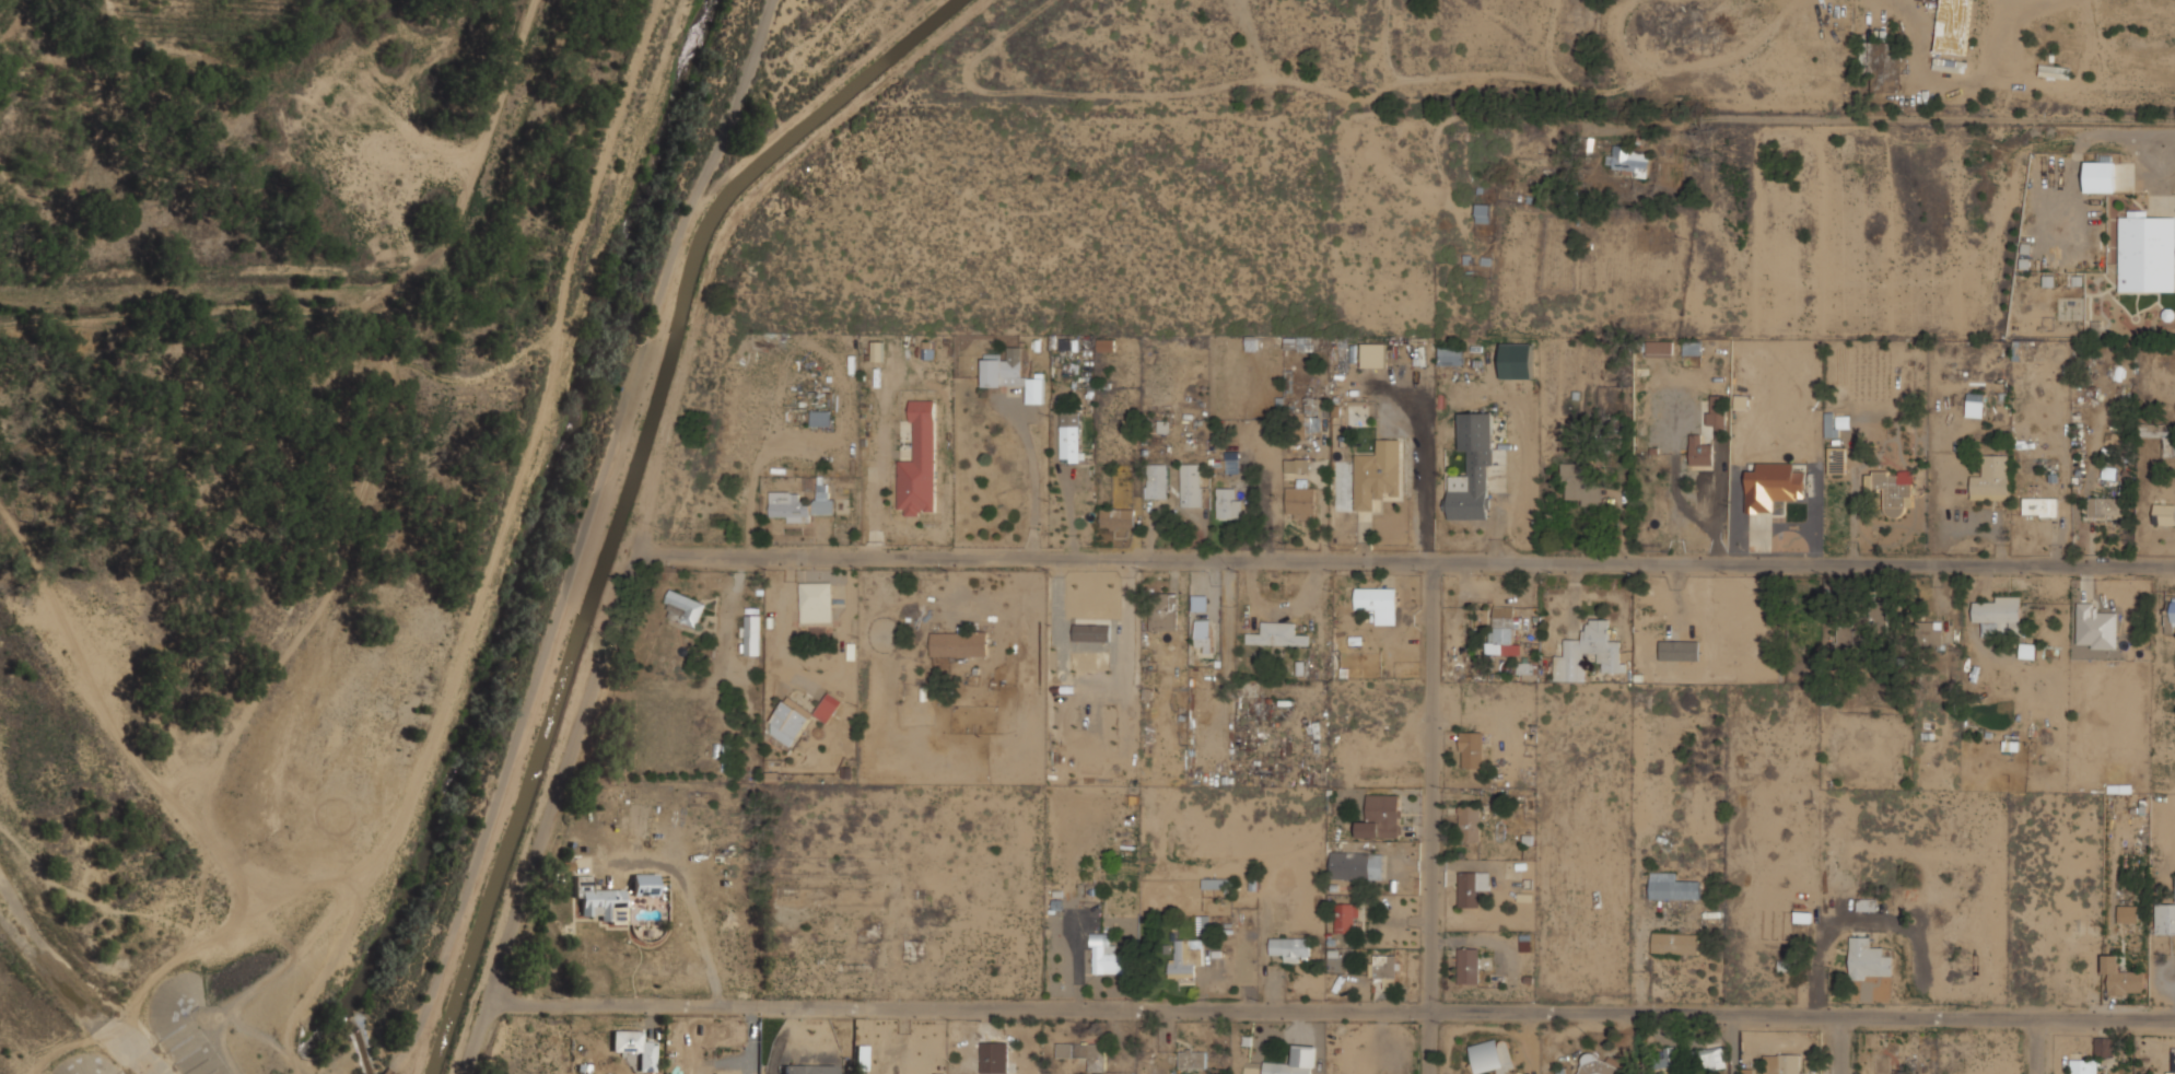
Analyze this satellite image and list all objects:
building: (1953, 26)
building: (1883, 65)
building: (1949, 65)
building: (2054, 70)
road: (1803, 143)
building: (1627, 159)
building: (2101, 175)
building: (1483, 212)
building: (2147, 253)
building: (1106, 345)
building: (1660, 348)
building: (1692, 348)
building: (1450, 354)
building: (1517, 361)
building: (1005, 367)
building: (1036, 388)
building: (1313, 413)
building: (1718, 413)
building: (821, 418)
building: (1793, 424)
building: (1831, 424)
building: (1071, 437)
building: (1700, 451)
building: (1837, 459)
building: (920, 462)
building: (1297, 464)
building: (1473, 469)
building: (1377, 474)
building: (1797, 478)
building: (1992, 478)
building: (1157, 480)
building: (1192, 483)
building: (1581, 483)
building: (1893, 490)
building: (1300, 501)
building: (803, 502)
building: (1749, 502)
building: (1229, 503)
building: (2040, 506)
building: (2105, 506)
building: (1799, 507)
building: (2164, 513)
building: (1119, 517)
road: (581, 537)
road: (1423, 562)
building: (1376, 597)
building: (817, 602)
building: (685, 608)
building: (1165, 610)
building: (1998, 612)
building: (2171, 614)
building: (1651, 617)
building: (1092, 620)
building: (2096, 626)
building: (1504, 629)
building: (1864, 629)
building: (1091, 632)
building: (1929, 632)
building: (1277, 633)
building: (751, 634)
building: (1204, 634)
building: (959, 643)
building: (1592, 646)
building: (1679, 650)
building: (2027, 651)
building: (1528, 668)
building: (828, 705)
building: (790, 722)
building: (1471, 749)
building: (1381, 816)
road: (1436, 818)
building: (1470, 820)
road: (206, 843)
building: (1356, 864)
building: (1214, 883)
building: (645, 884)
building: (2174, 885)
building: (1472, 886)
building: (1673, 886)
road: (688, 898)
building: (601, 900)
building: (2128, 913)
building: (1347, 918)
building: (2165, 919)
building: (1206, 923)
building: (1676, 942)
building: (1289, 945)
building: (1108, 955)
building: (1186, 956)
building: (1869, 959)
building: (1469, 965)
building: (1387, 969)
building: (2121, 978)
road: (141, 994)
road: (1334, 1012)
road: (478, 1036)
road: (1731, 1046)
building: (2105, 1046)
building: (635, 1047)
road: (1838, 1047)
road: (2036, 1047)
building: (1084, 1053)
building: (996, 1055)
building: (862, 1057)
building: (1493, 1057)
building: (1193, 1059)
building: (1667, 1059)
building: (1710, 1059)
building: (2171, 1060)
building: (1296, 1061)
building: (1784, 1063)
building: (1595, 1065)
building: (2084, 1066)
building: (808, 1070)
building: (2139, 1073)

